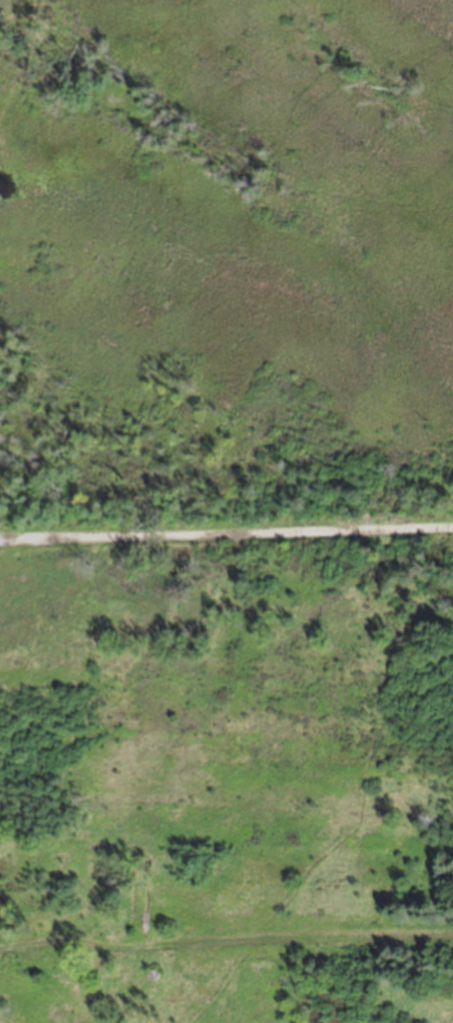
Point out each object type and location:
road: (226, 535)

